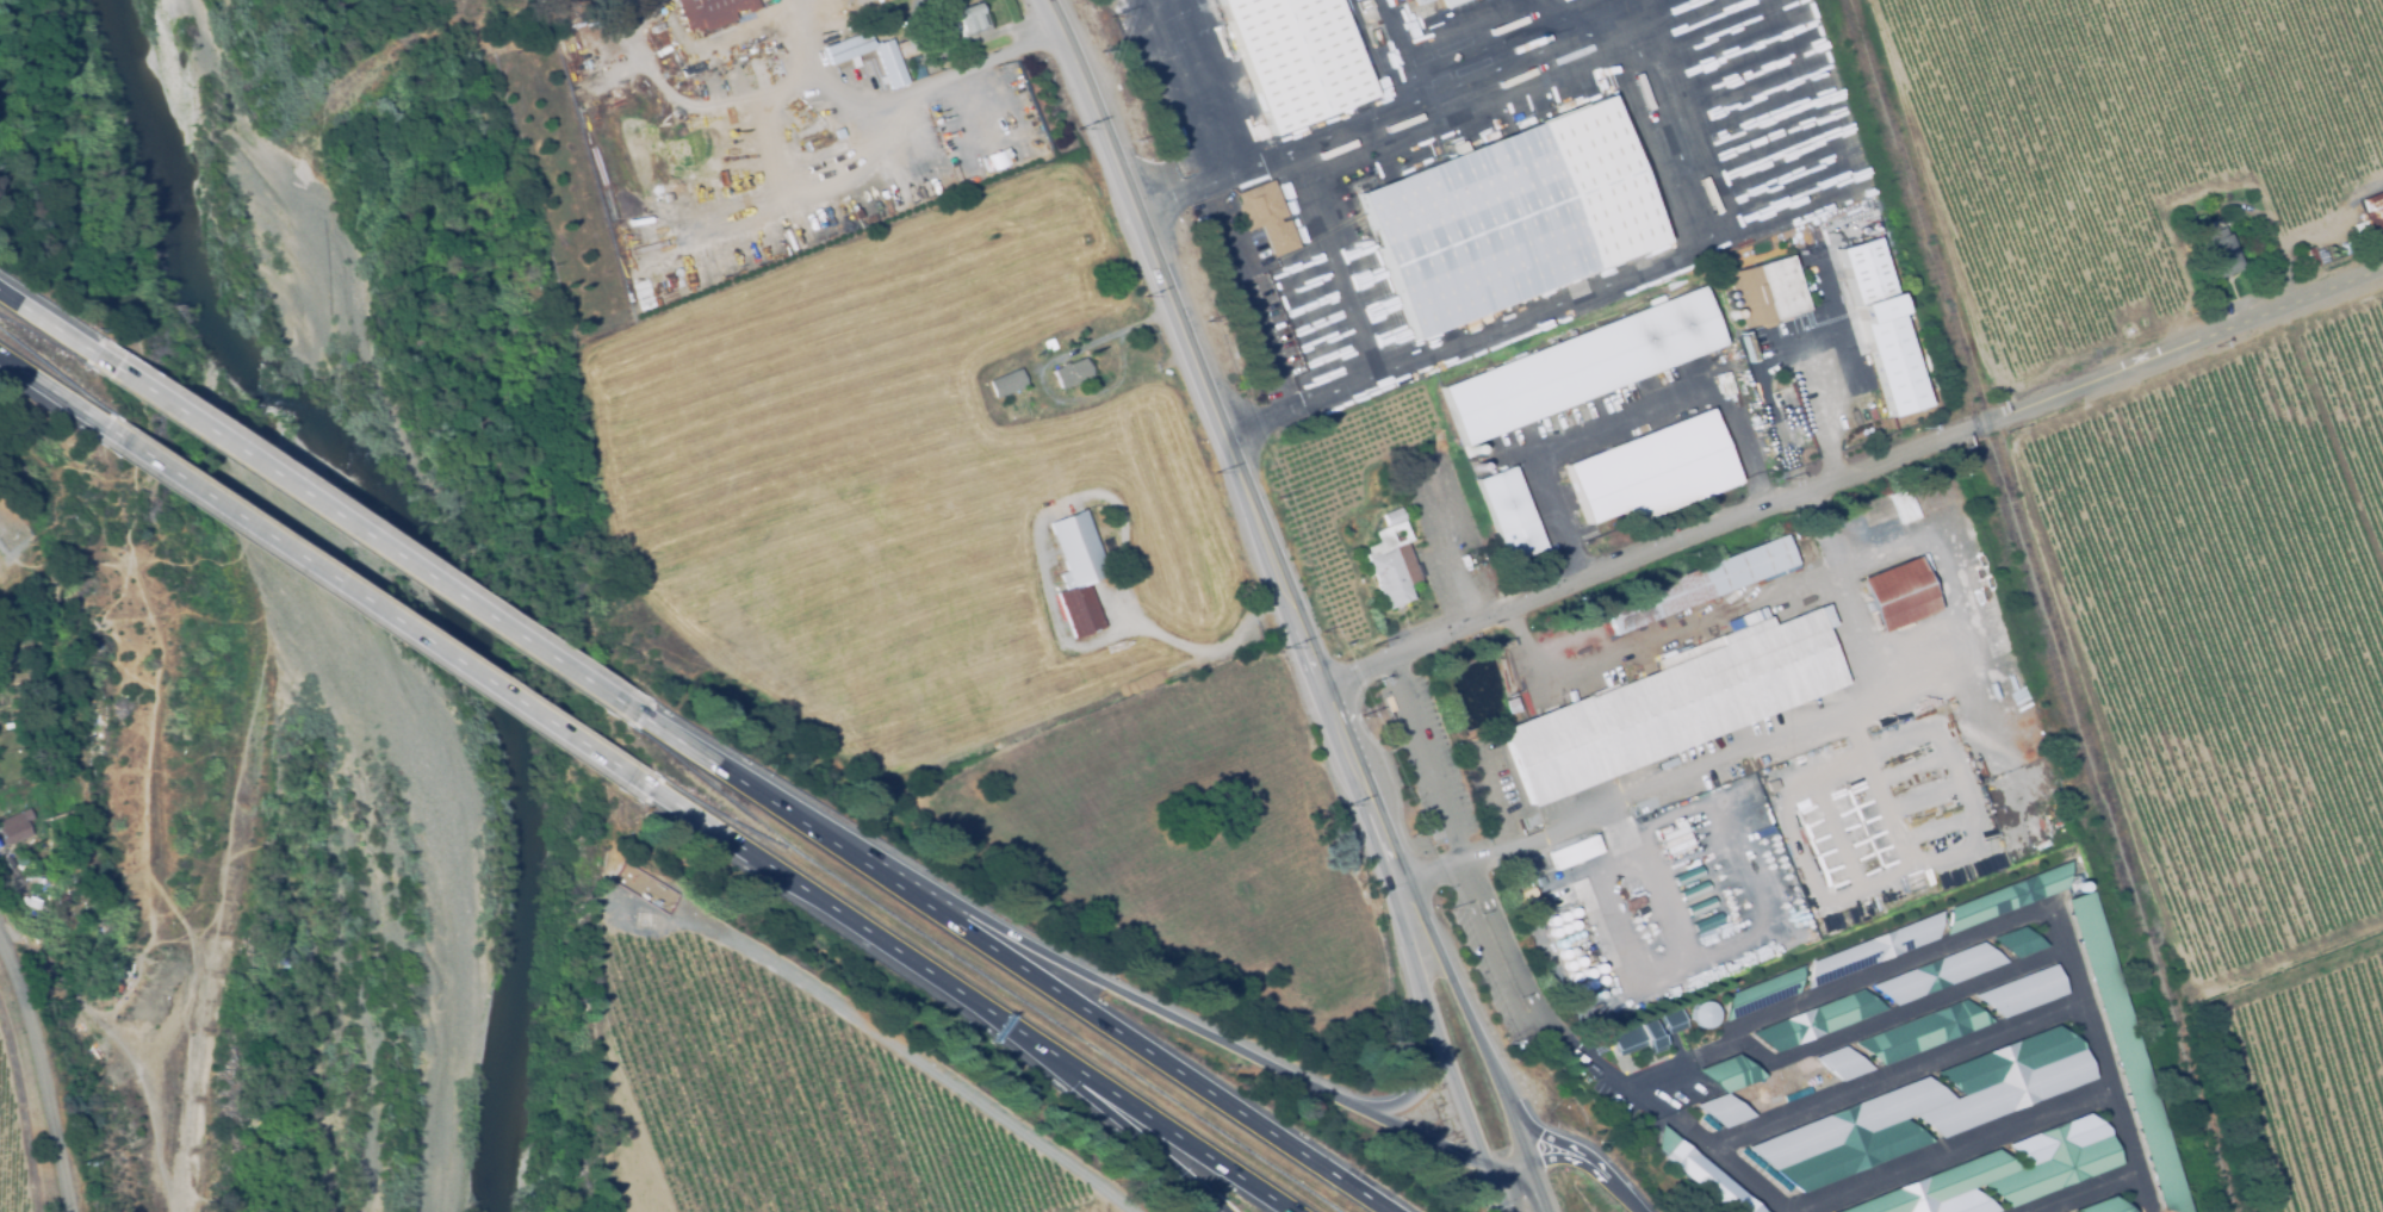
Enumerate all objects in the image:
building: (1419, 1)
building: (1450, 2)
building: (1212, 8)
building: (712, 12)
road: (1546, 18)
building: (967, 20)
building: (910, 46)
building: (848, 48)
building: (769, 49)
building: (1296, 58)
building: (890, 64)
road: (919, 87)
road: (1425, 87)
road: (1168, 91)
road: (316, 159)
road: (1174, 198)
building: (2372, 216)
building: (1266, 217)
building: (1510, 217)
building: (2218, 254)
building: (2331, 255)
building: (2307, 260)
building: (1864, 271)
building: (1765, 292)
building: (1878, 309)
building: (1734, 313)
road: (50, 324)
building: (1581, 366)
building: (1894, 367)
building: (1073, 373)
building: (1011, 383)
road: (56, 392)
road: (280, 396)
road: (1814, 410)
road: (1618, 415)
road: (1227, 440)
building: (1472, 450)
building: (1478, 466)
building: (1652, 471)
road: (1853, 476)
building: (1509, 514)
building: (1799, 536)
road: (372, 537)
river: (440, 560)
river: (454, 561)
building: (1391, 561)
river: (409, 572)
building: (1078, 572)
building: (1700, 584)
building: (1897, 595)
railway: (2040, 604)
road: (380, 609)
road: (1656, 634)
building: (14, 649)
building: (1508, 683)
building: (1676, 702)
building: (1512, 706)
building: (2, 729)
road: (1764, 740)
building: (1762, 760)
road: (1426, 763)
building: (29, 770)
building: (1771, 785)
building: (15, 828)
building: (0, 843)
road: (232, 844)
building: (1574, 852)
road: (1431, 871)
building: (41, 882)
building: (2006, 895)
building: (25, 905)
building: (1572, 909)
building: (1562, 914)
road: (845, 916)
building: (1551, 919)
building: (1572, 922)
building: (1564, 926)
building: (1585, 928)
building: (1554, 930)
building: (1580, 931)
road: (1974, 932)
building: (1574, 933)
building: (1568, 936)
road: (1504, 939)
building: (2019, 940)
building: (1559, 941)
building: (1590, 947)
building: (1873, 947)
building: (1572, 949)
building: (1563, 952)
building: (1577, 961)
road: (1493, 962)
building: (1569, 964)
road: (1016, 965)
building: (1595, 967)
building: (1584, 971)
building: (1938, 972)
building: (1574, 975)
building: (1600, 978)
building: (1589, 983)
building: (1577, 987)
building: (1762, 990)
building: (2024, 990)
building: (1705, 1013)
building: (1818, 1019)
building: (1673, 1020)
road: (1178, 1026)
building: (1923, 1030)
road: (1434, 1031)
building: (1637, 1037)
road: (1481, 1043)
building: (2128, 1051)
road: (1578, 1056)
building: (1843, 1062)
building: (1730, 1071)
road: (41, 1073)
road: (1417, 1092)
building: (1723, 1108)
building: (1925, 1108)
road: (138, 1129)
road: (1131, 1129)
road: (1165, 1129)
road: (1699, 1146)
road: (1591, 1171)
building: (2005, 1171)
road: (1513, 1174)
building: (1702, 1174)
road: (1498, 1194)
building: (2105, 1205)

